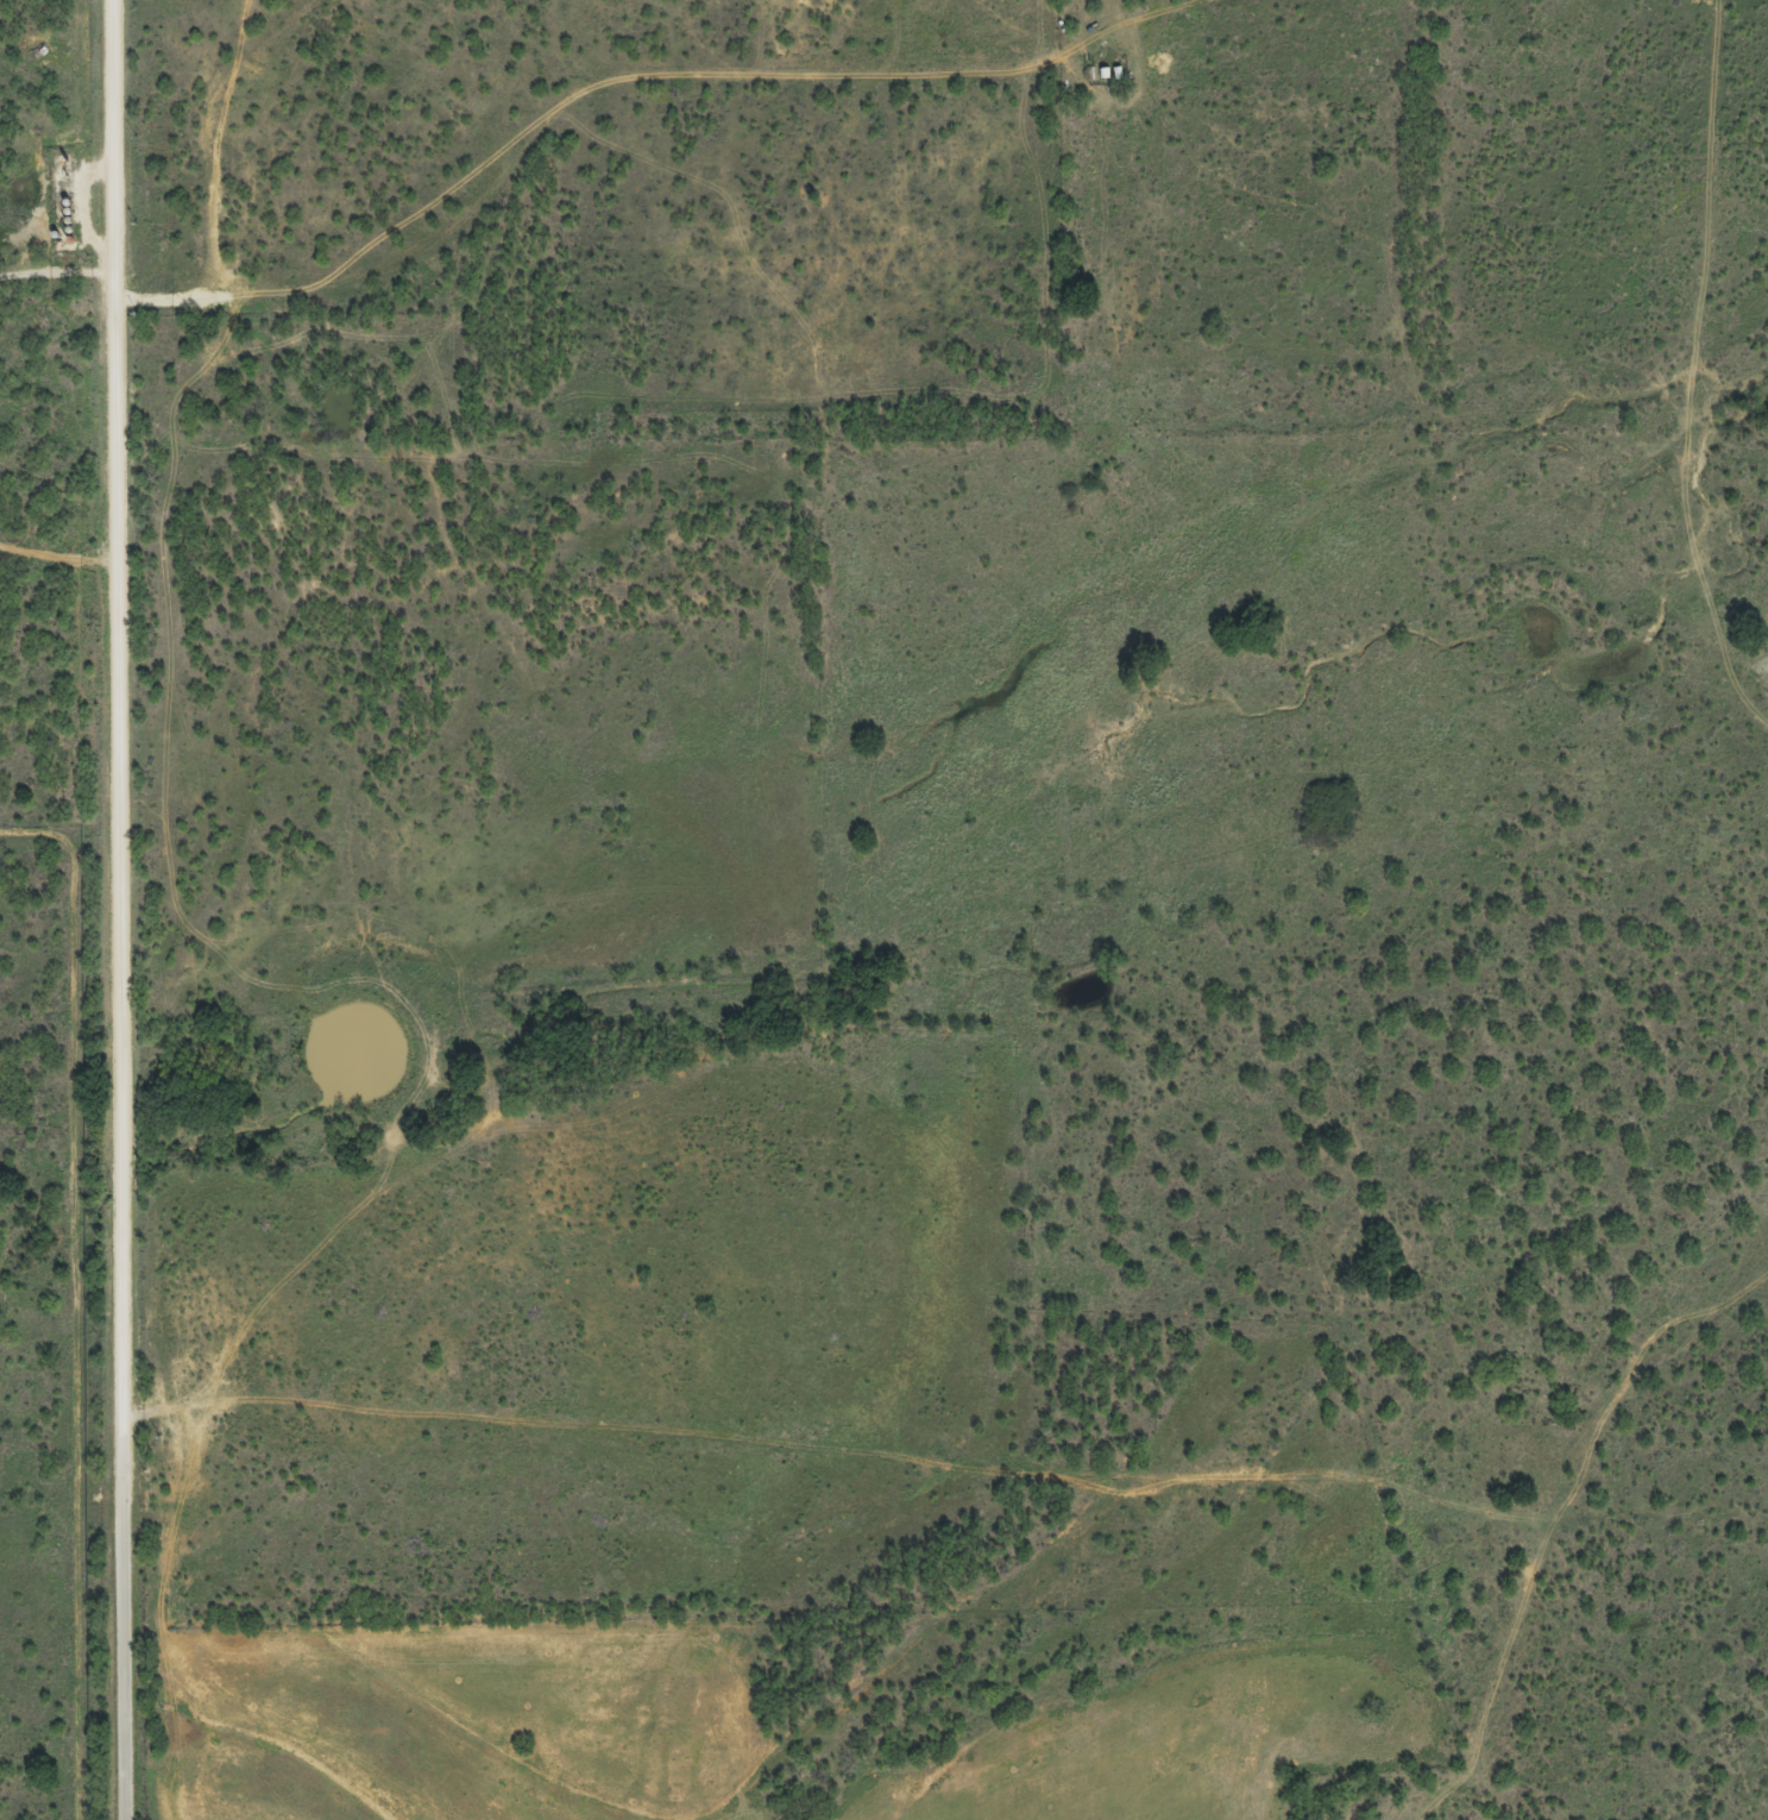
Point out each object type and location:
road: (594, 86)
road: (56, 282)
road: (118, 721)
road: (126, 1631)

